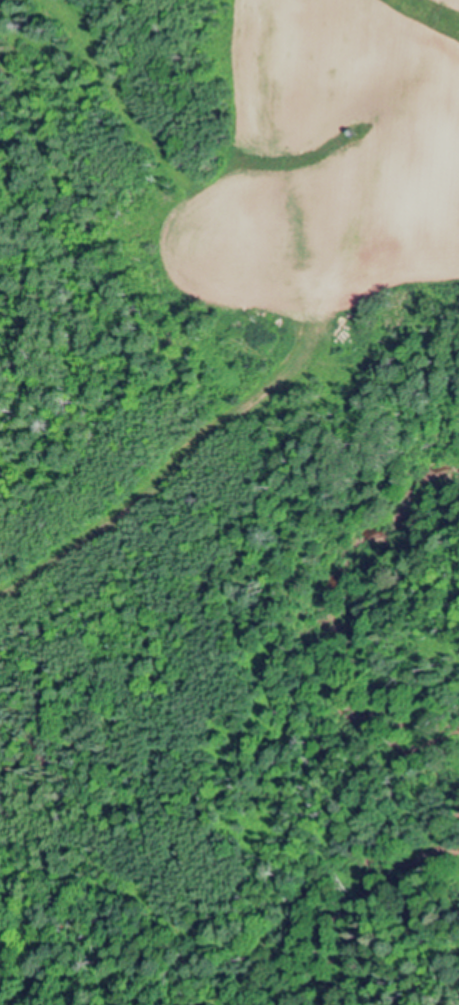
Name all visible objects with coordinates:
crop: (320, 160)

